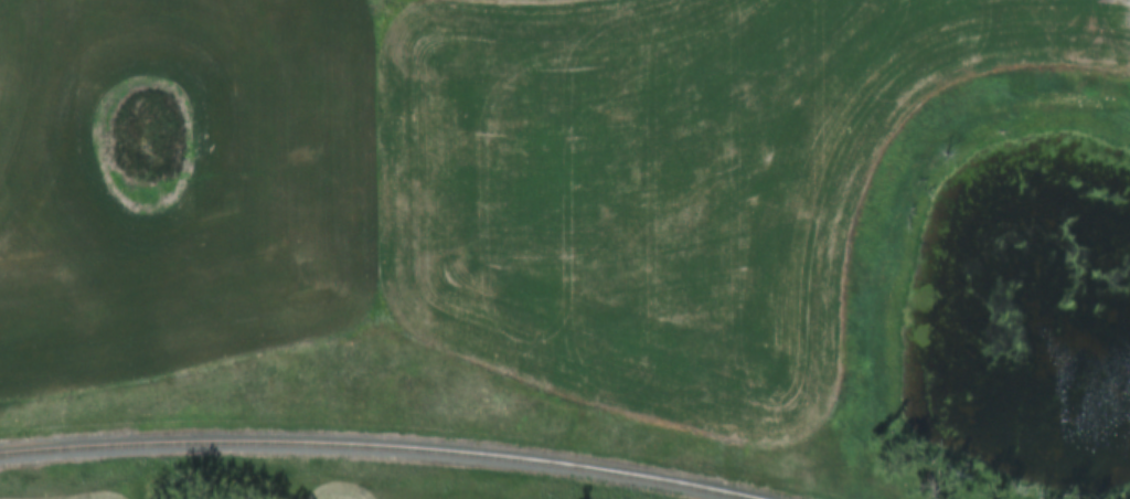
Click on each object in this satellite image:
railway: (382, 447)

